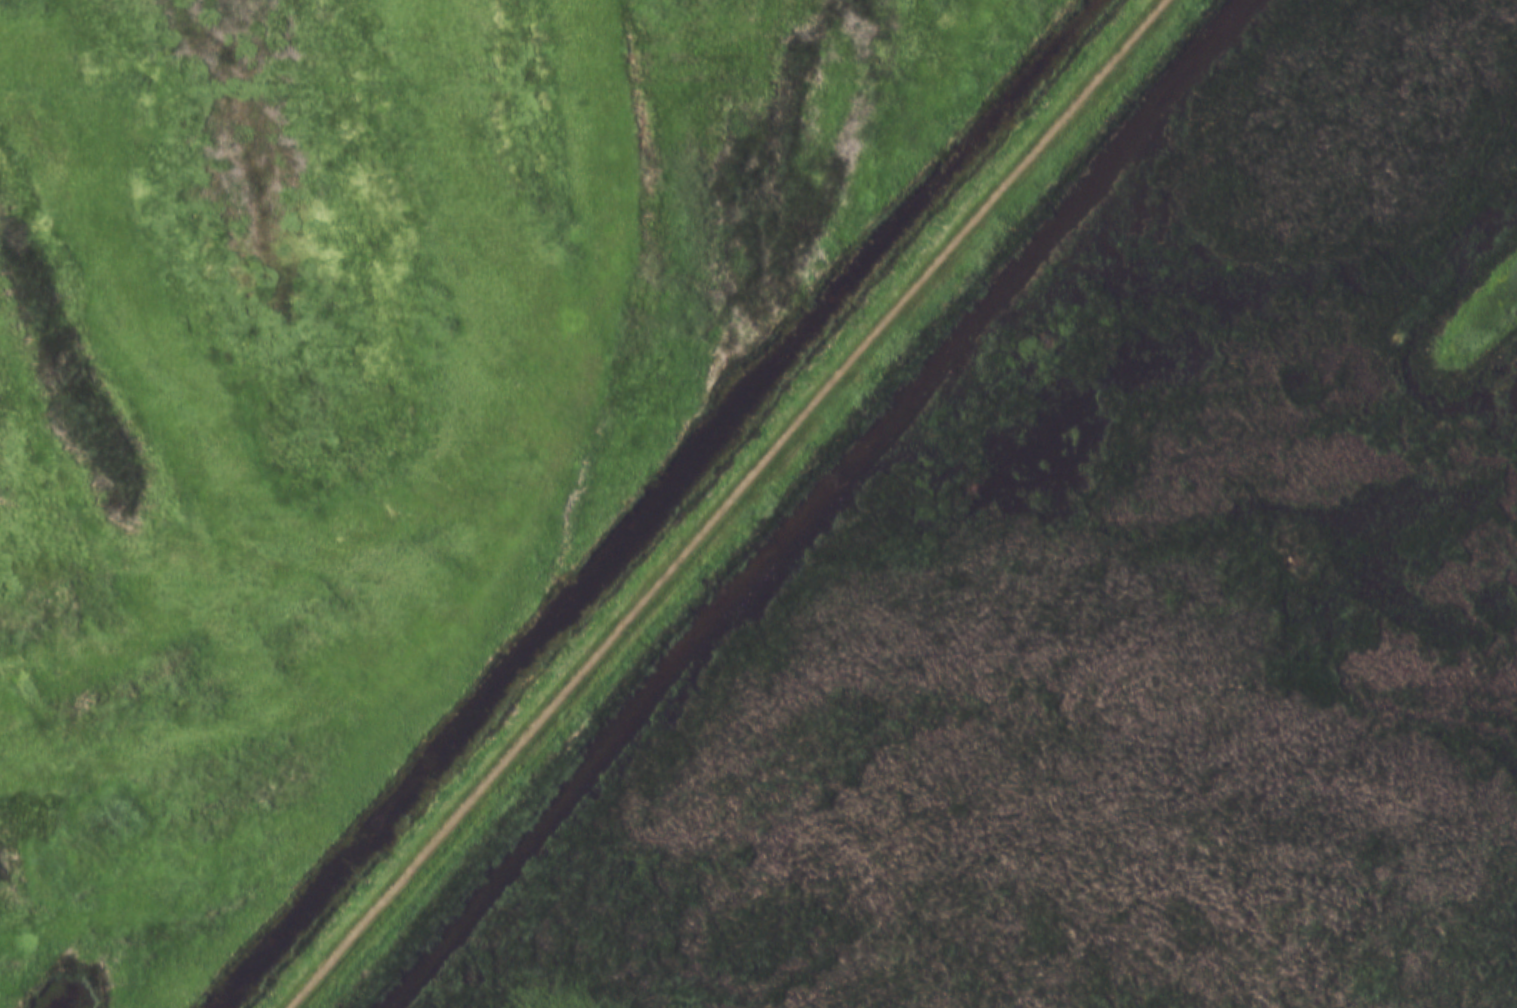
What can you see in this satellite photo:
road: (724, 503)
dam: (756, 510)

